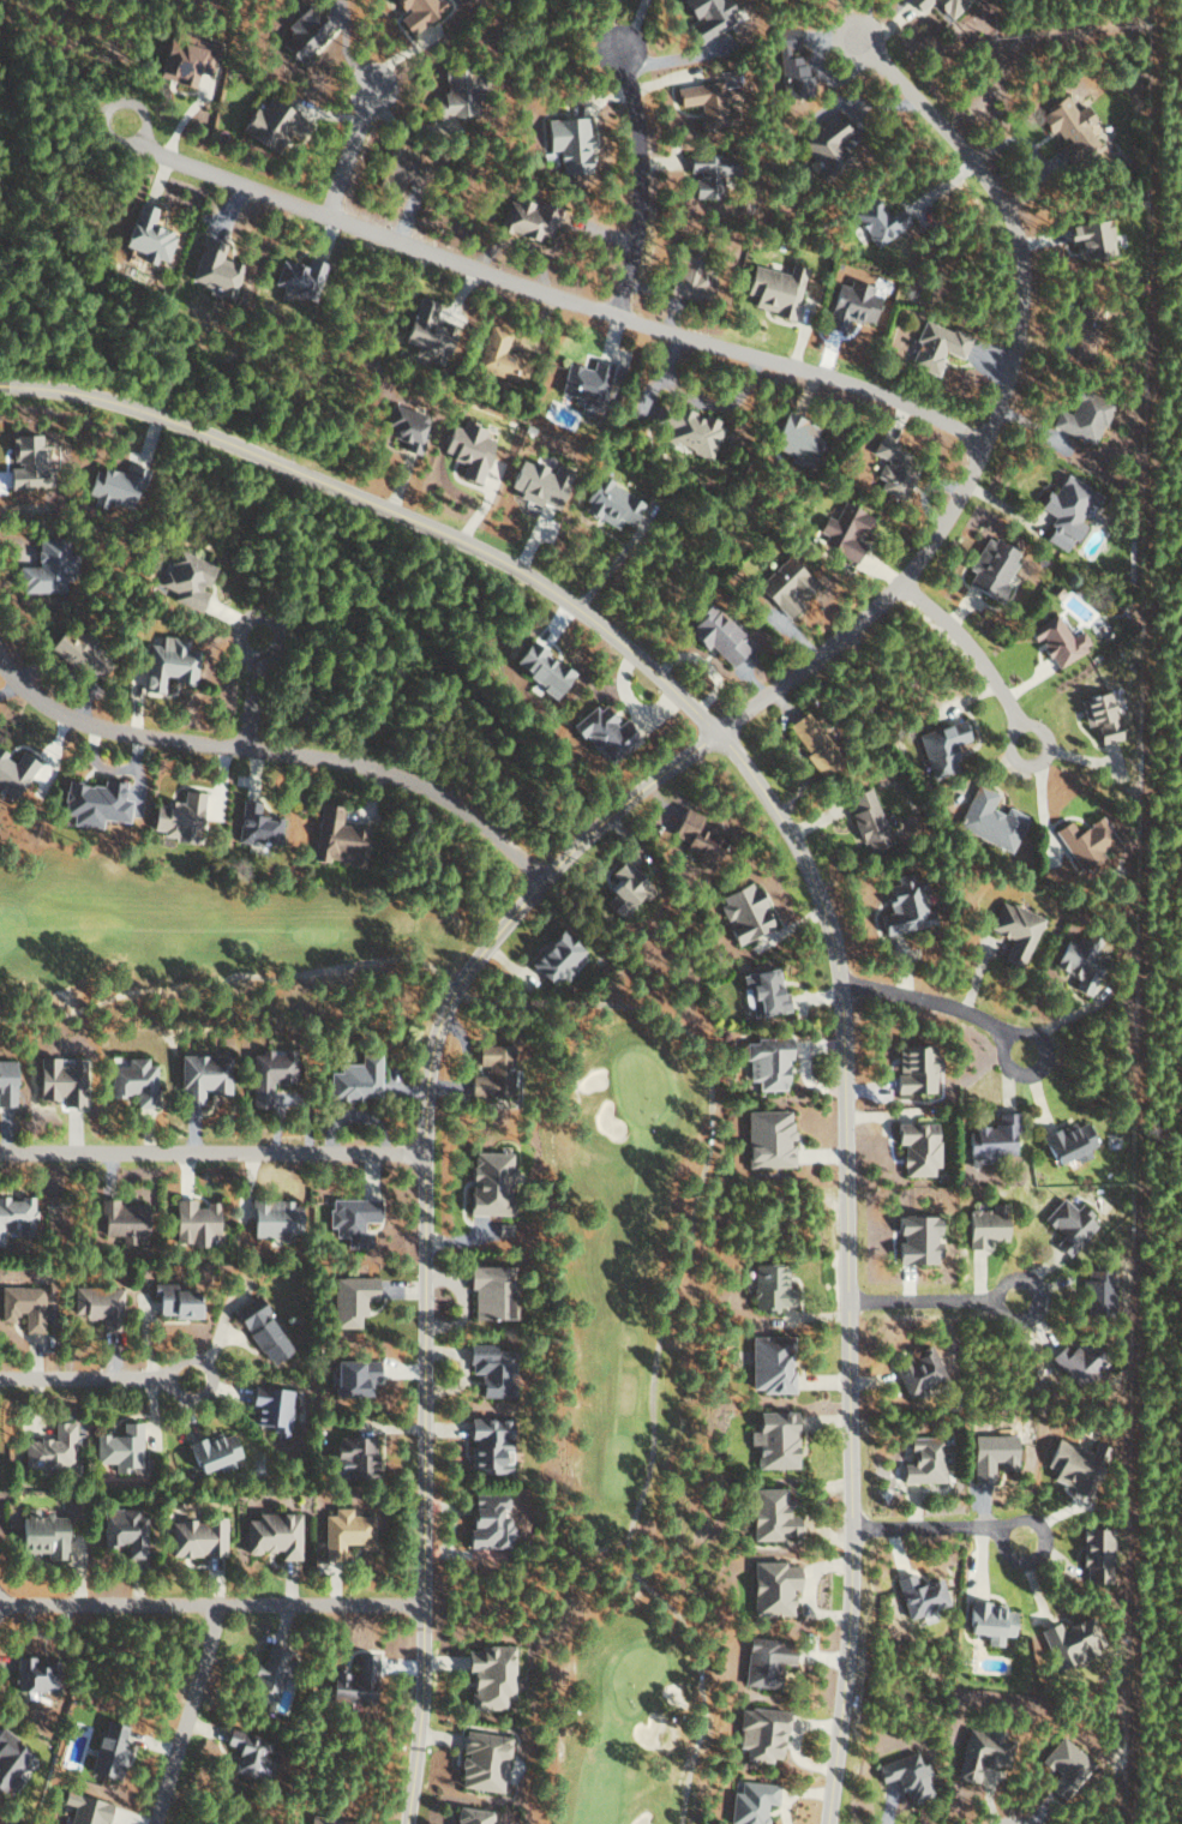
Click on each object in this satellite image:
building: (918, 4)
building: (948, 6)
building: (414, 11)
building: (706, 16)
building: (301, 32)
building: (182, 56)
building: (790, 62)
building: (452, 92)
building: (708, 101)
building: (265, 121)
building: (1068, 126)
building: (566, 142)
building: (824, 146)
road: (346, 163)
building: (395, 168)
building: (704, 172)
road: (644, 196)
building: (527, 218)
building: (877, 221)
building: (143, 234)
building: (1090, 236)
building: (212, 268)
building: (686, 276)
building: (772, 288)
road: (557, 300)
building: (850, 304)
building: (1081, 328)
building: (421, 330)
building: (935, 346)
building: (497, 356)
building: (584, 382)
building: (1080, 416)
building: (404, 426)
building: (686, 428)
building: (793, 439)
building: (466, 448)
building: (22, 462)
building: (890, 467)
building: (536, 482)
building: (113, 485)
building: (608, 503)
building: (1064, 510)
building: (842, 530)
building: (989, 566)
building: (41, 569)
building: (185, 578)
building: (784, 586)
road: (254, 616)
building: (713, 635)
building: (1056, 640)
road: (968, 648)
building: (166, 662)
building: (539, 668)
road: (242, 702)
building: (1098, 715)
building: (602, 734)
building: (811, 743)
building: (940, 746)
road: (280, 754)
building: (12, 773)
building: (90, 803)
building: (175, 816)
building: (866, 818)
building: (989, 820)
building: (254, 824)
building: (695, 835)
building: (336, 838)
building: (1085, 841)
road: (577, 848)
road: (804, 862)
building: (620, 887)
building: (904, 906)
building: (742, 912)
building: (1014, 930)
building: (554, 958)
building: (1078, 962)
road: (341, 964)
building: (761, 991)
road: (922, 998)
road: (108, 1001)
road: (1003, 1033)
building: (766, 1062)
building: (912, 1069)
building: (492, 1070)
building: (266, 1074)
building: (199, 1076)
building: (353, 1080)
building: (56, 1081)
building: (132, 1081)
building: (5, 1082)
building: (766, 1139)
building: (990, 1140)
building: (1068, 1142)
building: (914, 1147)
road: (212, 1157)
road: (708, 1166)
building: (487, 1182)
building: (16, 1213)
building: (350, 1218)
building: (120, 1219)
building: (192, 1220)
building: (1067, 1224)
building: (983, 1226)
building: (502, 1228)
building: (914, 1238)
building: (767, 1284)
building: (488, 1289)
building: (1097, 1292)
building: (348, 1298)
building: (174, 1301)
building: (97, 1303)
building: (22, 1304)
road: (947, 1304)
building: (258, 1327)
park: (632, 1351)
building: (1076, 1361)
building: (768, 1363)
building: (490, 1368)
building: (916, 1369)
building: (350, 1375)
road: (84, 1382)
building: (269, 1406)
building: (773, 1438)
building: (486, 1444)
building: (119, 1446)
building: (49, 1447)
building: (211, 1451)
building: (991, 1453)
building: (350, 1456)
building: (923, 1459)
building: (1072, 1463)
building: (769, 1513)
building: (485, 1519)
building: (124, 1530)
building: (343, 1531)
building: (40, 1532)
building: (271, 1532)
road: (947, 1535)
building: (194, 1536)
building: (1093, 1553)
building: (770, 1586)
building: (918, 1594)
road: (211, 1607)
building: (989, 1620)
building: (1066, 1640)
building: (763, 1660)
road: (701, 1669)
building: (31, 1673)
building: (264, 1675)
building: (487, 1675)
building: (353, 1680)
road: (186, 1715)
building: (760, 1733)
building: (104, 1750)
building: (978, 1751)
building: (248, 1752)
building: (10, 1760)
building: (480, 1760)
building: (1063, 1765)
building: (905, 1774)
building: (749, 1801)
building: (82, 1808)
building: (470, 1816)
building: (325, 1819)

